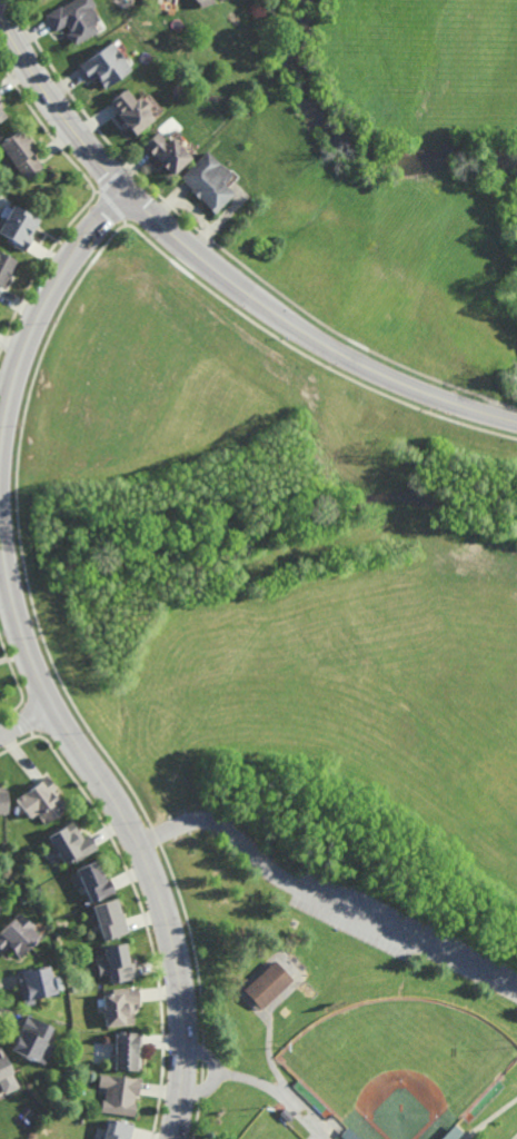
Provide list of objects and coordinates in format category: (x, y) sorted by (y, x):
building: (196, 0)
building: (157, 1)
building: (203, 2)
building: (76, 19)
building: (106, 65)
building: (0, 96)
building: (0, 98)
building: (0, 106)
building: (131, 111)
building: (2, 115)
building: (22, 151)
building: (167, 151)
building: (208, 180)
building: (19, 224)
building: (6, 266)
road: (216, 270)
road: (37, 321)
park: (299, 691)
road: (26, 721)
building: (2, 801)
building: (40, 802)
road: (126, 816)
building: (71, 844)
building: (95, 883)
road: (322, 892)
building: (110, 919)
parking lot: (399, 932)
building: (18, 933)
building: (119, 963)
building: (37, 981)
building: (271, 987)
building: (122, 1006)
building: (34, 1039)
building: (130, 1051)
road: (209, 1053)
park: (400, 1063)
building: (4, 1064)
road: (264, 1083)
building: (121, 1095)
park: (270, 1127)
building: (120, 1130)
building: (454, 1132)
building: (351, 1133)

